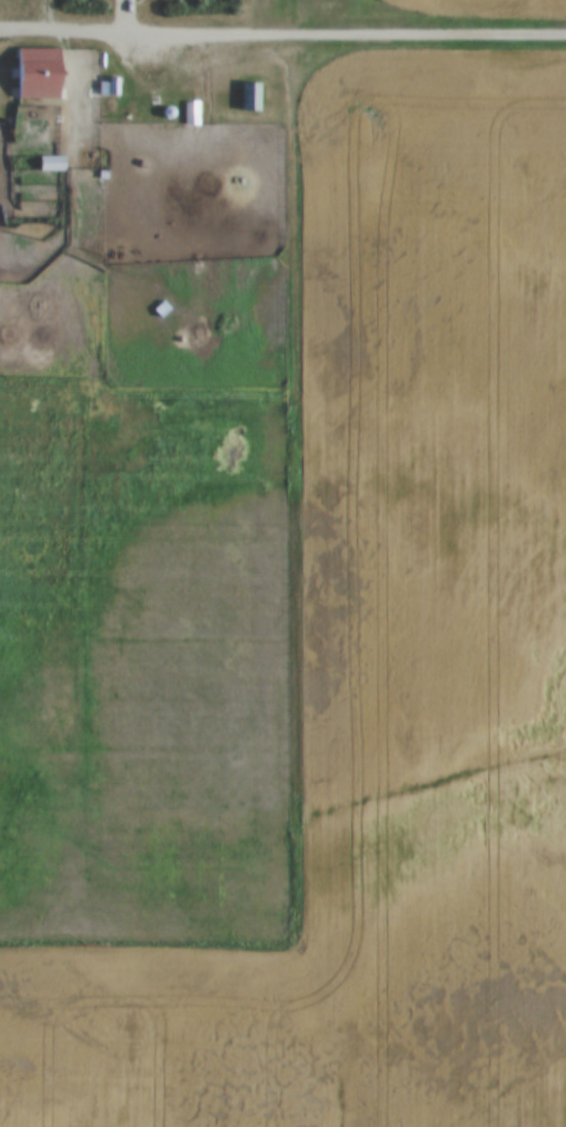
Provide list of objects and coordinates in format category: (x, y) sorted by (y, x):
road: (282, 33)
building: (42, 73)
building: (250, 97)

